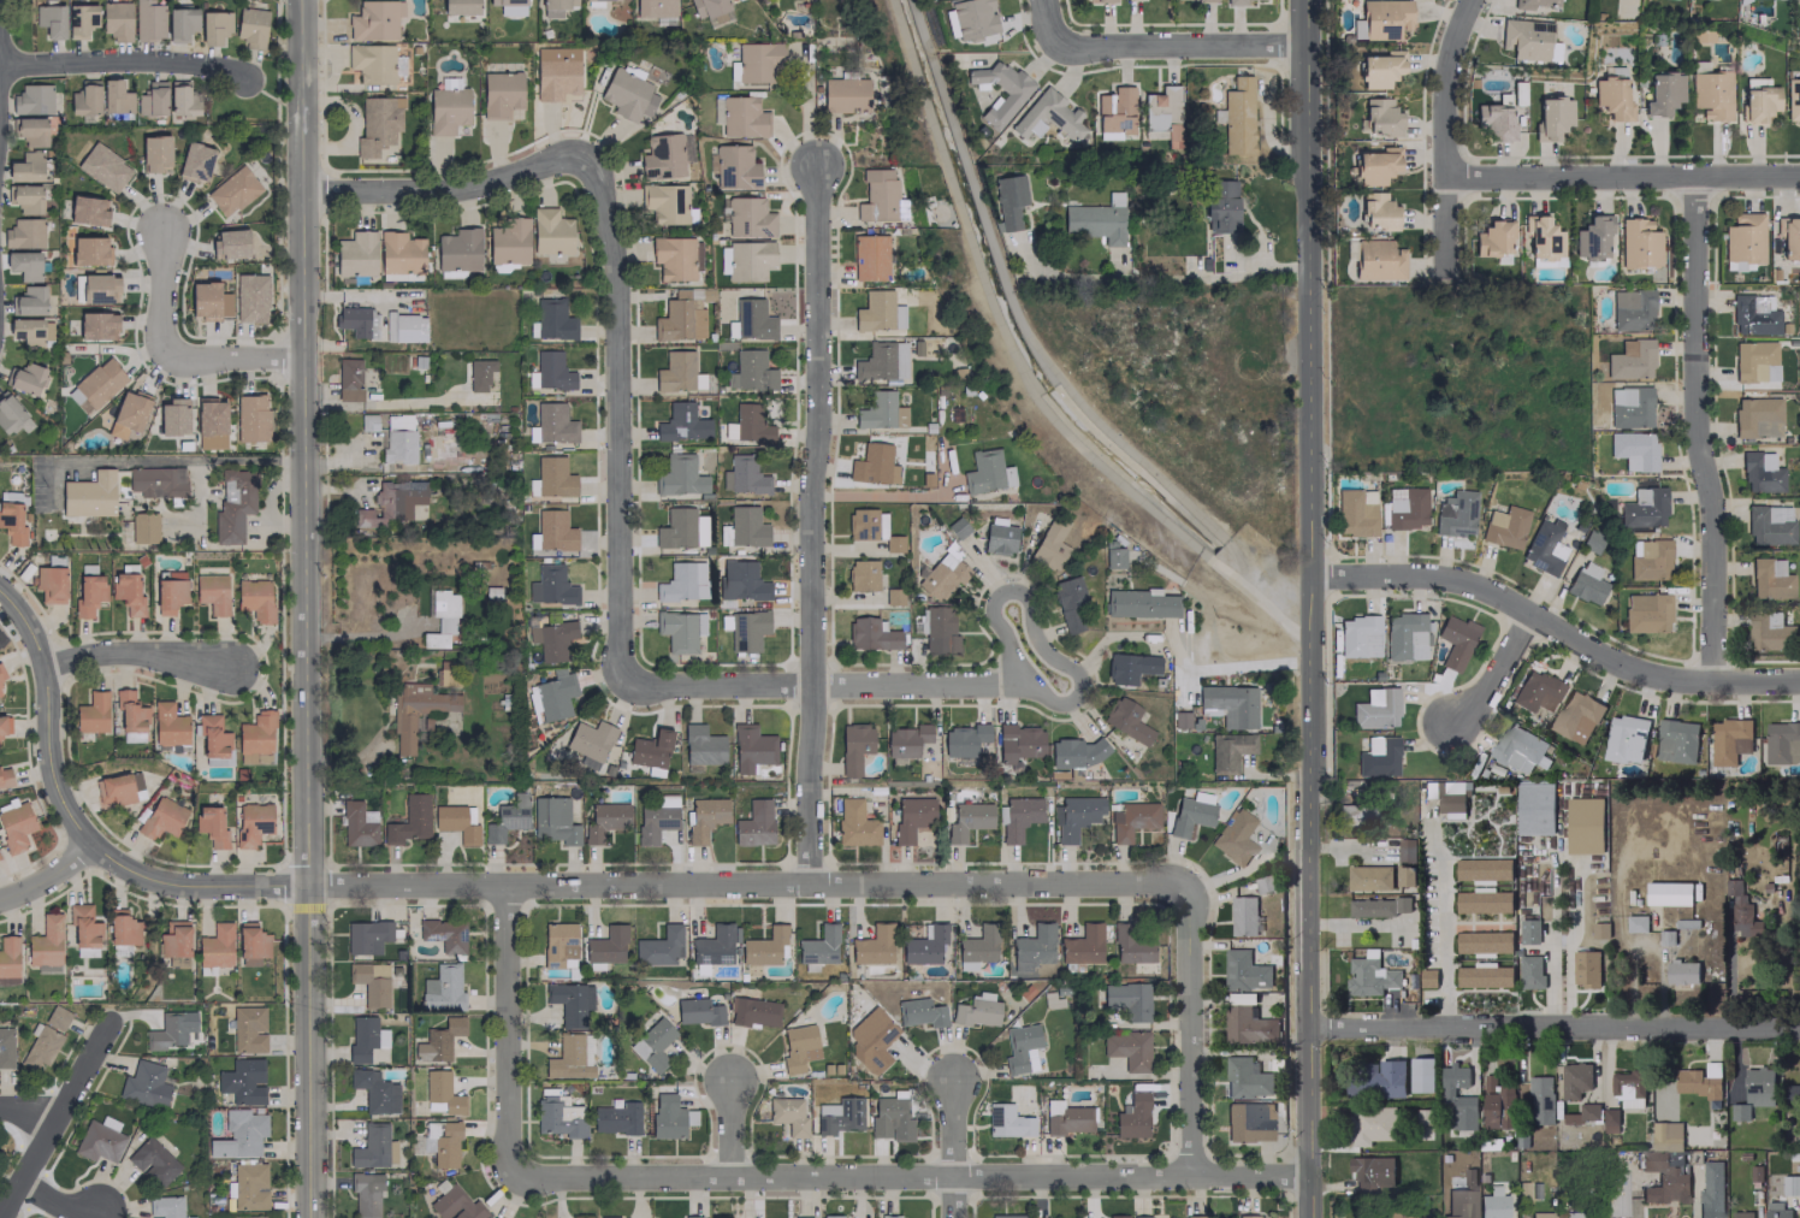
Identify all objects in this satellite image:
building: (1099, 0)
building: (1201, 0)
building: (1233, 2)
building: (1530, 4)
building: (458, 6)
building: (508, 6)
building: (555, 7)
building: (653, 7)
building: (710, 10)
building: (972, 18)
building: (49, 19)
building: (374, 19)
building: (1381, 19)
building: (116, 20)
building: (148, 20)
road: (1047, 23)
building: (179, 24)
building: (213, 26)
building: (250, 26)
building: (1524, 39)
road: (1184, 46)
road: (124, 61)
building: (757, 61)
building: (371, 63)
building: (1379, 69)
building: (555, 72)
building: (1002, 91)
building: (499, 93)
building: (1662, 93)
building: (627, 94)
building: (843, 94)
building: (1710, 94)
building: (1611, 95)
building: (114, 96)
building: (84, 97)
building: (31, 99)
building: (150, 99)
building: (1792, 99)
building: (182, 100)
building: (1757, 104)
building: (446, 110)
road: (806, 110)
building: (1114, 110)
building: (1162, 113)
building: (1048, 116)
building: (1237, 116)
building: (741, 117)
building: (1380, 117)
building: (1551, 117)
building: (1493, 120)
building: (377, 124)
road: (1445, 128)
building: (30, 130)
building: (154, 153)
building: (664, 155)
building: (194, 161)
building: (1375, 166)
building: (25, 167)
building: (102, 167)
building: (734, 167)
road: (1622, 177)
building: (231, 190)
road: (444, 190)
building: (876, 196)
building: (24, 197)
building: (1007, 201)
building: (664, 202)
building: (1220, 206)
building: (85, 211)
building: (1378, 211)
building: (747, 218)
building: (1096, 219)
building: (550, 232)
building: (23, 233)
building: (1540, 236)
building: (1592, 236)
building: (1742, 237)
building: (1788, 237)
building: (1491, 238)
building: (508, 241)
building: (229, 243)
building: (1638, 243)
building: (457, 249)
building: (88, 250)
building: (399, 253)
building: (355, 254)
building: (868, 256)
building: (675, 258)
building: (1378, 259)
building: (722, 260)
building: (748, 260)
building: (23, 265)
road: (1171, 279)
road: (160, 290)
building: (250, 297)
building: (28, 301)
building: (208, 301)
building: (876, 307)
building: (1630, 309)
building: (1753, 314)
building: (552, 319)
building: (679, 319)
building: (753, 319)
building: (356, 320)
building: (96, 325)
building: (404, 327)
building: (30, 331)
road: (232, 355)
building: (1630, 359)
building: (881, 361)
building: (1754, 361)
building: (550, 371)
building: (750, 371)
building: (677, 372)
building: (478, 373)
building: (24, 378)
building: (348, 379)
building: (99, 382)
road: (396, 401)
building: (1629, 407)
building: (880, 410)
building: (128, 413)
building: (11, 415)
building: (172, 416)
building: (1755, 416)
building: (250, 418)
road: (617, 419)
building: (367, 421)
building: (209, 422)
building: (681, 422)
building: (551, 424)
building: (750, 424)
road: (1697, 432)
building: (397, 445)
building: (1633, 450)
road: (177, 459)
building: (872, 465)
building: (985, 471)
building: (1759, 472)
building: (679, 475)
building: (742, 475)
building: (552, 477)
building: (156, 481)
building: (88, 495)
road: (874, 495)
building: (390, 502)
building: (232, 504)
building: (1407, 508)
building: (1642, 508)
building: (1355, 512)
building: (1455, 513)
building: (11, 524)
building: (1768, 524)
building: (746, 526)
building: (1504, 526)
building: (143, 527)
road: (810, 527)
building: (871, 527)
building: (553, 530)
building: (677, 530)
building: (999, 538)
building: (1049, 544)
building: (1544, 546)
building: (1112, 555)
building: (1647, 558)
building: (861, 574)
building: (943, 574)
building: (1769, 578)
building: (741, 580)
building: (682, 581)
building: (1586, 583)
building: (49, 584)
building: (550, 586)
building: (126, 592)
building: (170, 592)
building: (211, 592)
building: (88, 595)
building: (254, 598)
building: (1068, 602)
building: (1138, 603)
road: (304, 608)
road: (1309, 609)
building: (1646, 613)
building: (440, 619)
road: (25, 623)
building: (940, 626)
road: (1555, 628)
building: (679, 629)
building: (746, 629)
building: (1770, 631)
building: (871, 633)
road: (362, 634)
building: (1357, 635)
building: (1404, 635)
building: (550, 639)
building: (1455, 640)
road: (134, 652)
road: (1012, 658)
building: (1129, 667)
road: (1226, 668)
building: (0, 672)
road: (1494, 673)
building: (0, 680)
road: (818, 684)
building: (1534, 691)
building: (551, 694)
building: (1227, 704)
building: (1374, 708)
building: (90, 713)
building: (129, 716)
building: (1575, 716)
building: (1125, 720)
building: (4, 725)
building: (167, 725)
building: (402, 733)
building: (211, 735)
building: (1626, 738)
building: (588, 739)
building: (905, 739)
building: (963, 739)
building: (1676, 740)
building: (1729, 740)
building: (1782, 741)
building: (1017, 743)
building: (700, 746)
building: (853, 746)
building: (750, 747)
building: (650, 749)
building: (1518, 749)
building: (1074, 751)
building: (1227, 751)
building: (1376, 756)
road: (45, 757)
building: (4, 775)
building: (118, 788)
building: (1445, 794)
building: (664, 799)
building: (1534, 808)
building: (1074, 815)
building: (1189, 815)
building: (705, 816)
building: (911, 816)
building: (161, 817)
building: (1017, 817)
building: (507, 818)
building: (408, 820)
building: (552, 820)
building: (604, 820)
building: (967, 820)
building: (1131, 820)
building: (251, 822)
building: (456, 822)
building: (653, 822)
building: (753, 823)
building: (854, 823)
building: (209, 824)
building: (1583, 824)
building: (356, 826)
building: (14, 827)
building: (1233, 836)
road: (1344, 846)
building: (1405, 853)
building: (1482, 868)
building: (1405, 875)
road: (43, 876)
building: (1368, 877)
road: (628, 888)
building: (1668, 893)
building: (1482, 901)
building: (1379, 906)
building: (1741, 911)
building: (1244, 916)
building: (1635, 923)
building: (122, 929)
building: (1528, 930)
building: (1601, 930)
building: (83, 932)
building: (443, 934)
building: (366, 935)
building: (45, 941)
road: (1440, 941)
building: (1482, 941)
building: (174, 942)
building: (557, 942)
building: (250, 944)
building: (1130, 944)
building: (605, 945)
building: (712, 945)
building: (872, 945)
building: (923, 945)
building: (1082, 945)
building: (214, 946)
building: (818, 946)
building: (658, 947)
building: (764, 947)
building: (976, 947)
building: (1032, 947)
building: (119, 950)
building: (8, 956)
building: (1585, 968)
building: (1244, 970)
building: (1530, 971)
building: (1681, 971)
building: (1484, 976)
building: (1368, 977)
building: (369, 982)
building: (442, 987)
building: (1126, 999)
building: (569, 1001)
building: (976, 1010)
building: (697, 1011)
building: (752, 1011)
building: (919, 1012)
building: (57, 1017)
building: (1248, 1025)
road: (1553, 1028)
building: (170, 1029)
building: (247, 1029)
road: (505, 1030)
road: (1190, 1034)
building: (363, 1037)
building: (438, 1040)
building: (874, 1041)
building: (652, 1043)
building: (5, 1047)
building: (39, 1047)
building: (798, 1047)
building: (1019, 1048)
building: (1127, 1050)
building: (569, 1057)
building: (1421, 1074)
building: (1245, 1078)
building: (1574, 1078)
building: (1376, 1080)
building: (1699, 1080)
building: (241, 1081)
building: (144, 1084)
building: (1627, 1088)
building: (1792, 1089)
building: (374, 1090)
building: (1754, 1090)
building: (442, 1092)
building: (1458, 1096)
building: (1540, 1099)
building: (1497, 1104)
building: (1583, 1113)
road: (26, 1114)
building: (787, 1114)
building: (558, 1116)
building: (839, 1116)
building: (1132, 1116)
building: (669, 1117)
building: (1065, 1117)
building: (616, 1118)
building: (890, 1118)
road: (54, 1119)
building: (1610, 1119)
building: (1006, 1121)
building: (1248, 1122)
building: (1370, 1124)
road: (730, 1129)
building: (238, 1134)
building: (1665, 1135)
building: (99, 1140)
building: (445, 1145)
road: (954, 1146)
building: (372, 1147)
building: (1652, 1160)
building: (153, 1161)
building: (1370, 1171)
road: (910, 1177)
building: (249, 1186)
building: (1789, 1186)
building: (1666, 1187)
building: (1710, 1189)
building: (365, 1193)
building: (1459, 1201)
road: (57, 1202)
building: (1492, 1204)
building: (454, 1205)
building: (165, 1207)
building: (1776, 1210)
building: (1405, 1214)
building: (1540, 1214)
building: (1579, 1214)
building: (1741, 1214)
building: (247, 1216)
building: (692, 1216)
building: (830, 1216)
building: (888, 1216)
building: (1005, 1216)
building: (1117, 1216)
building: (1194, 1216)
building: (1247, 1216)
building: (580, 1217)
building: (608, 1217)
building: (721, 1217)
building: (1038, 1217)
building: (1166, 1217)

